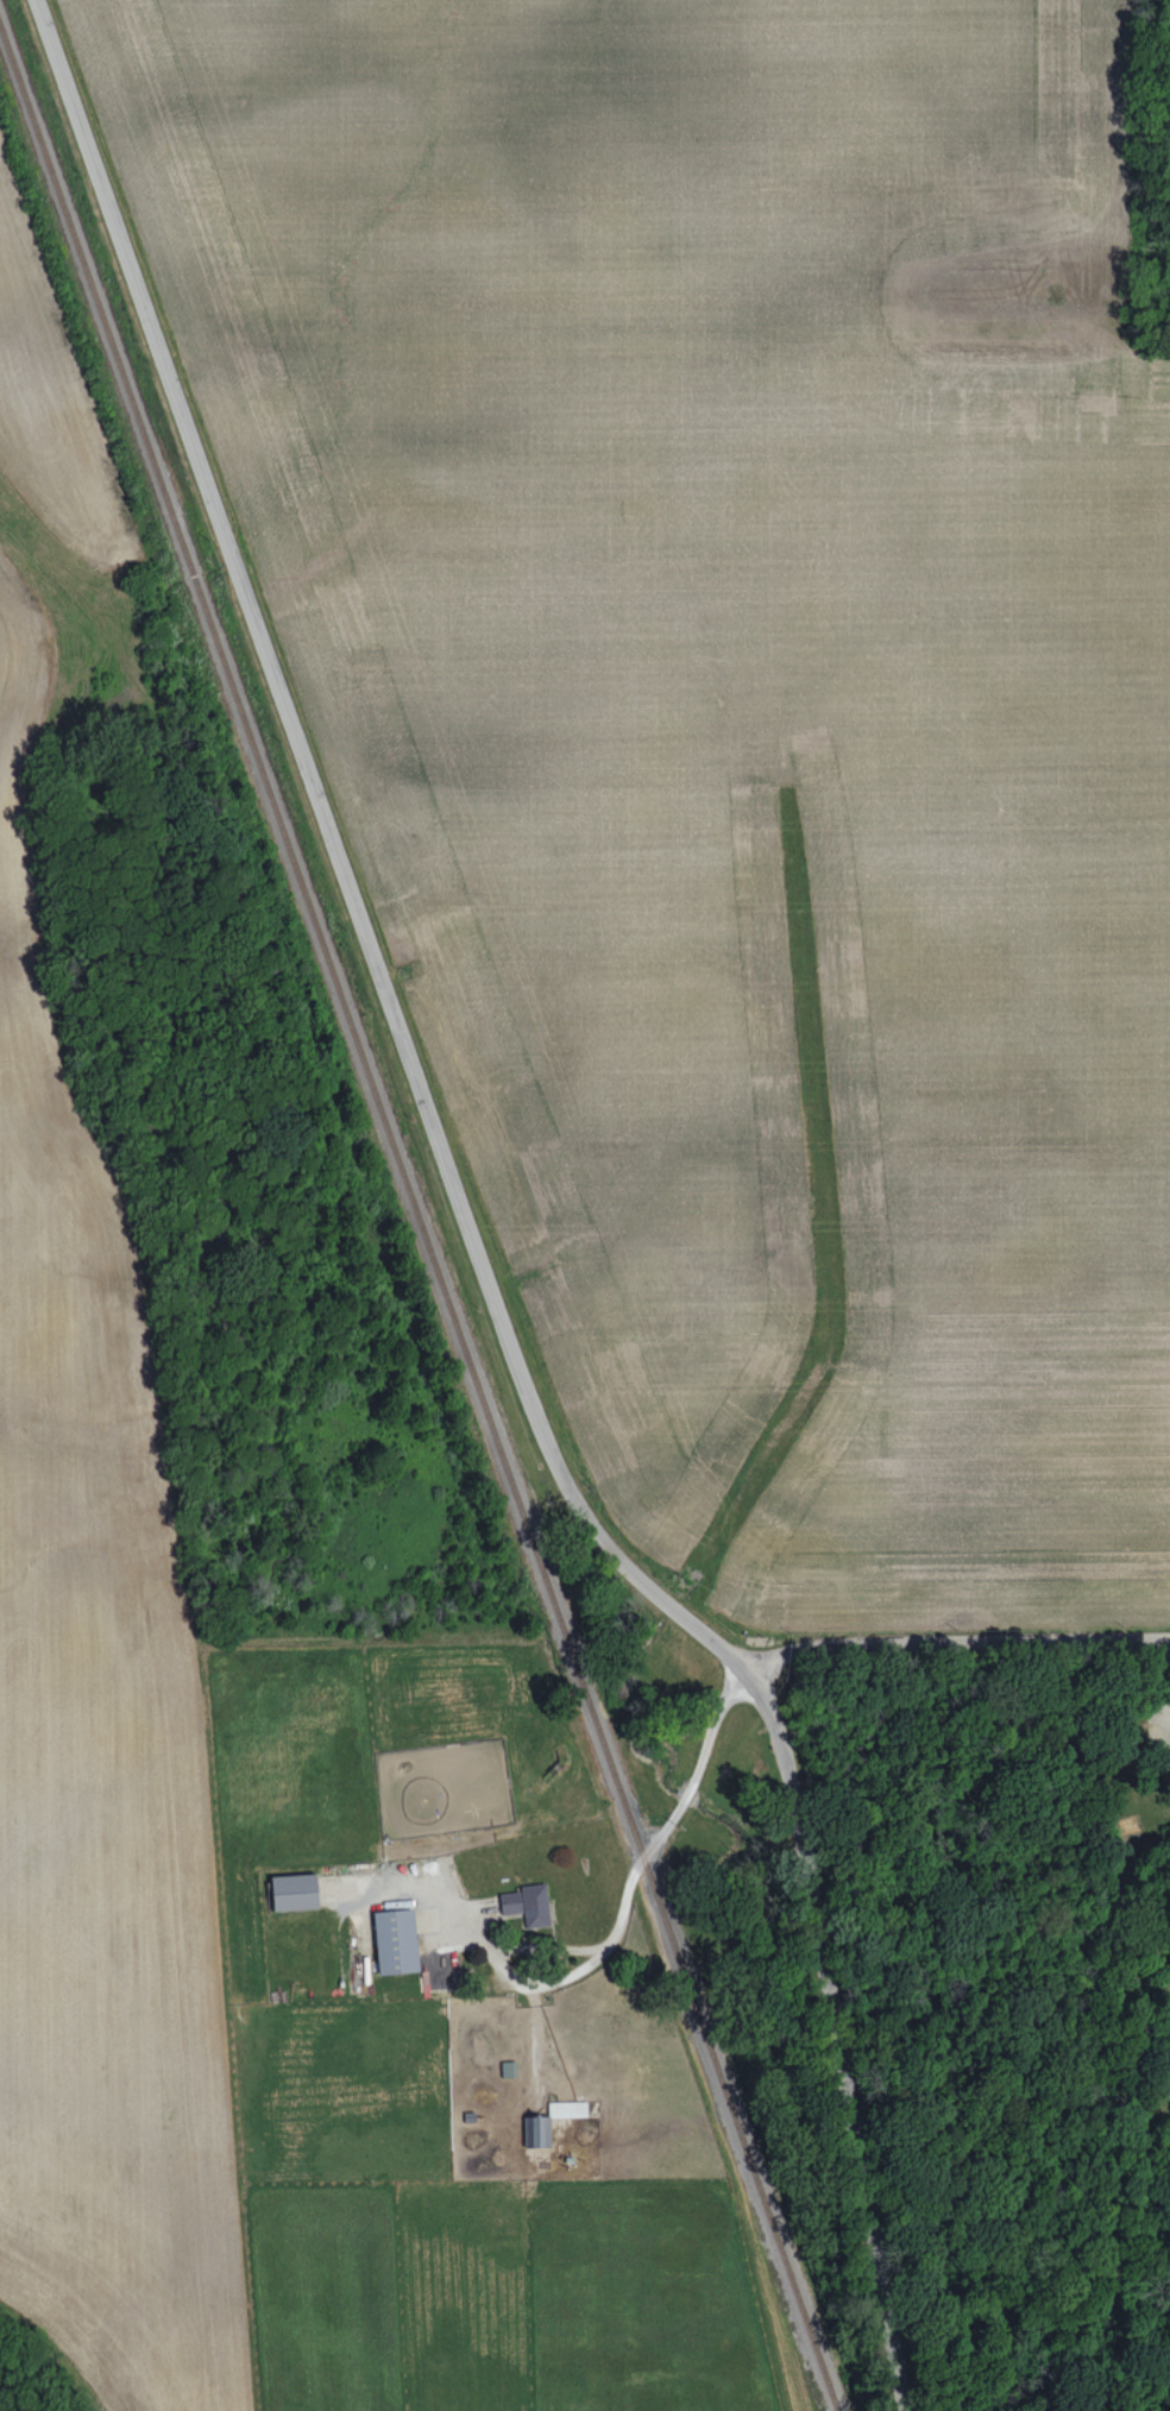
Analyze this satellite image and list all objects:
railway: (415, 1222)
road: (468, 1223)
road: (950, 1631)
building: (294, 1891)
building: (528, 1903)
road: (625, 1909)
building: (396, 1940)
building: (567, 2109)
building: (536, 2130)

